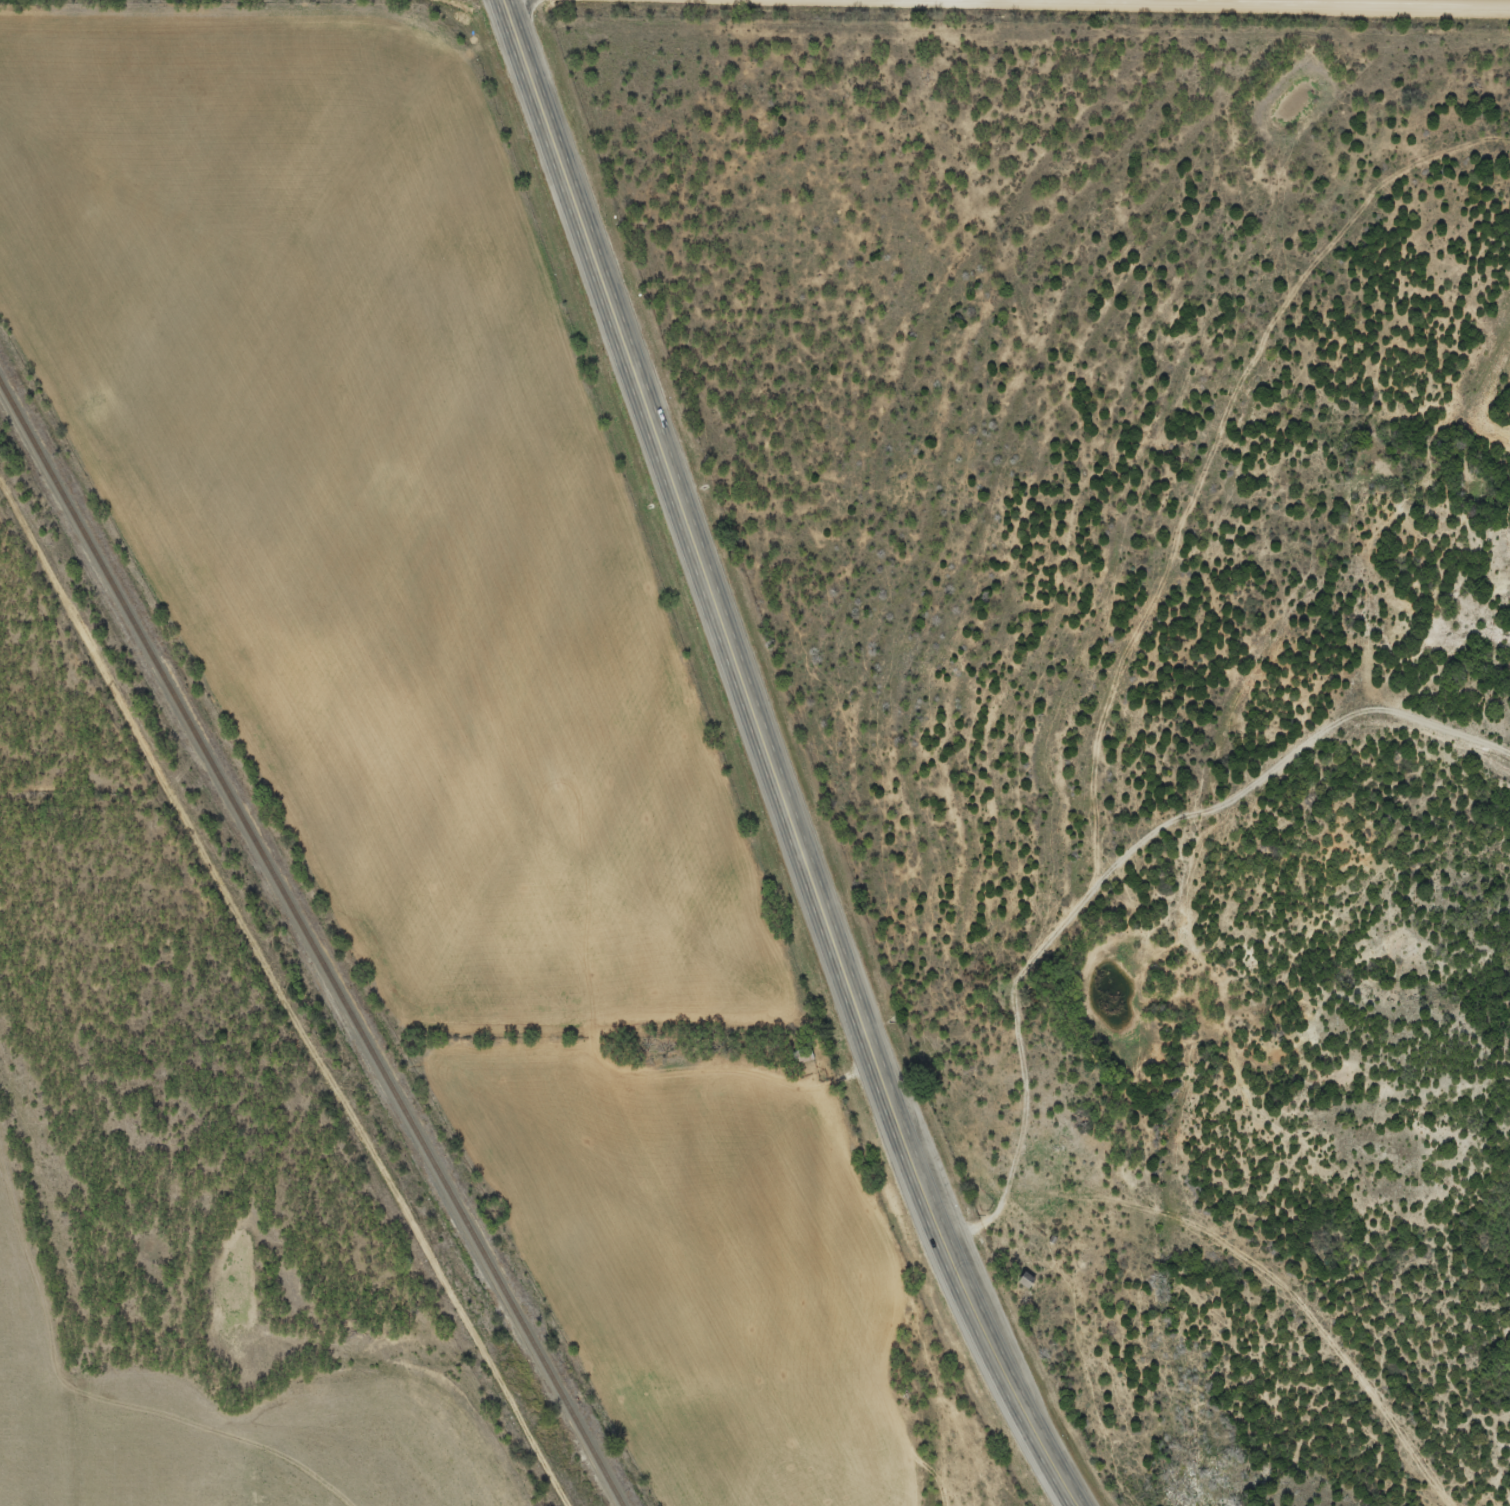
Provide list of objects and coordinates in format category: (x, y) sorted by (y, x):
road: (769, 761)
road: (1183, 825)
railway: (311, 947)
road: (229, 1055)
building: (799, 1055)
building: (1024, 1280)

